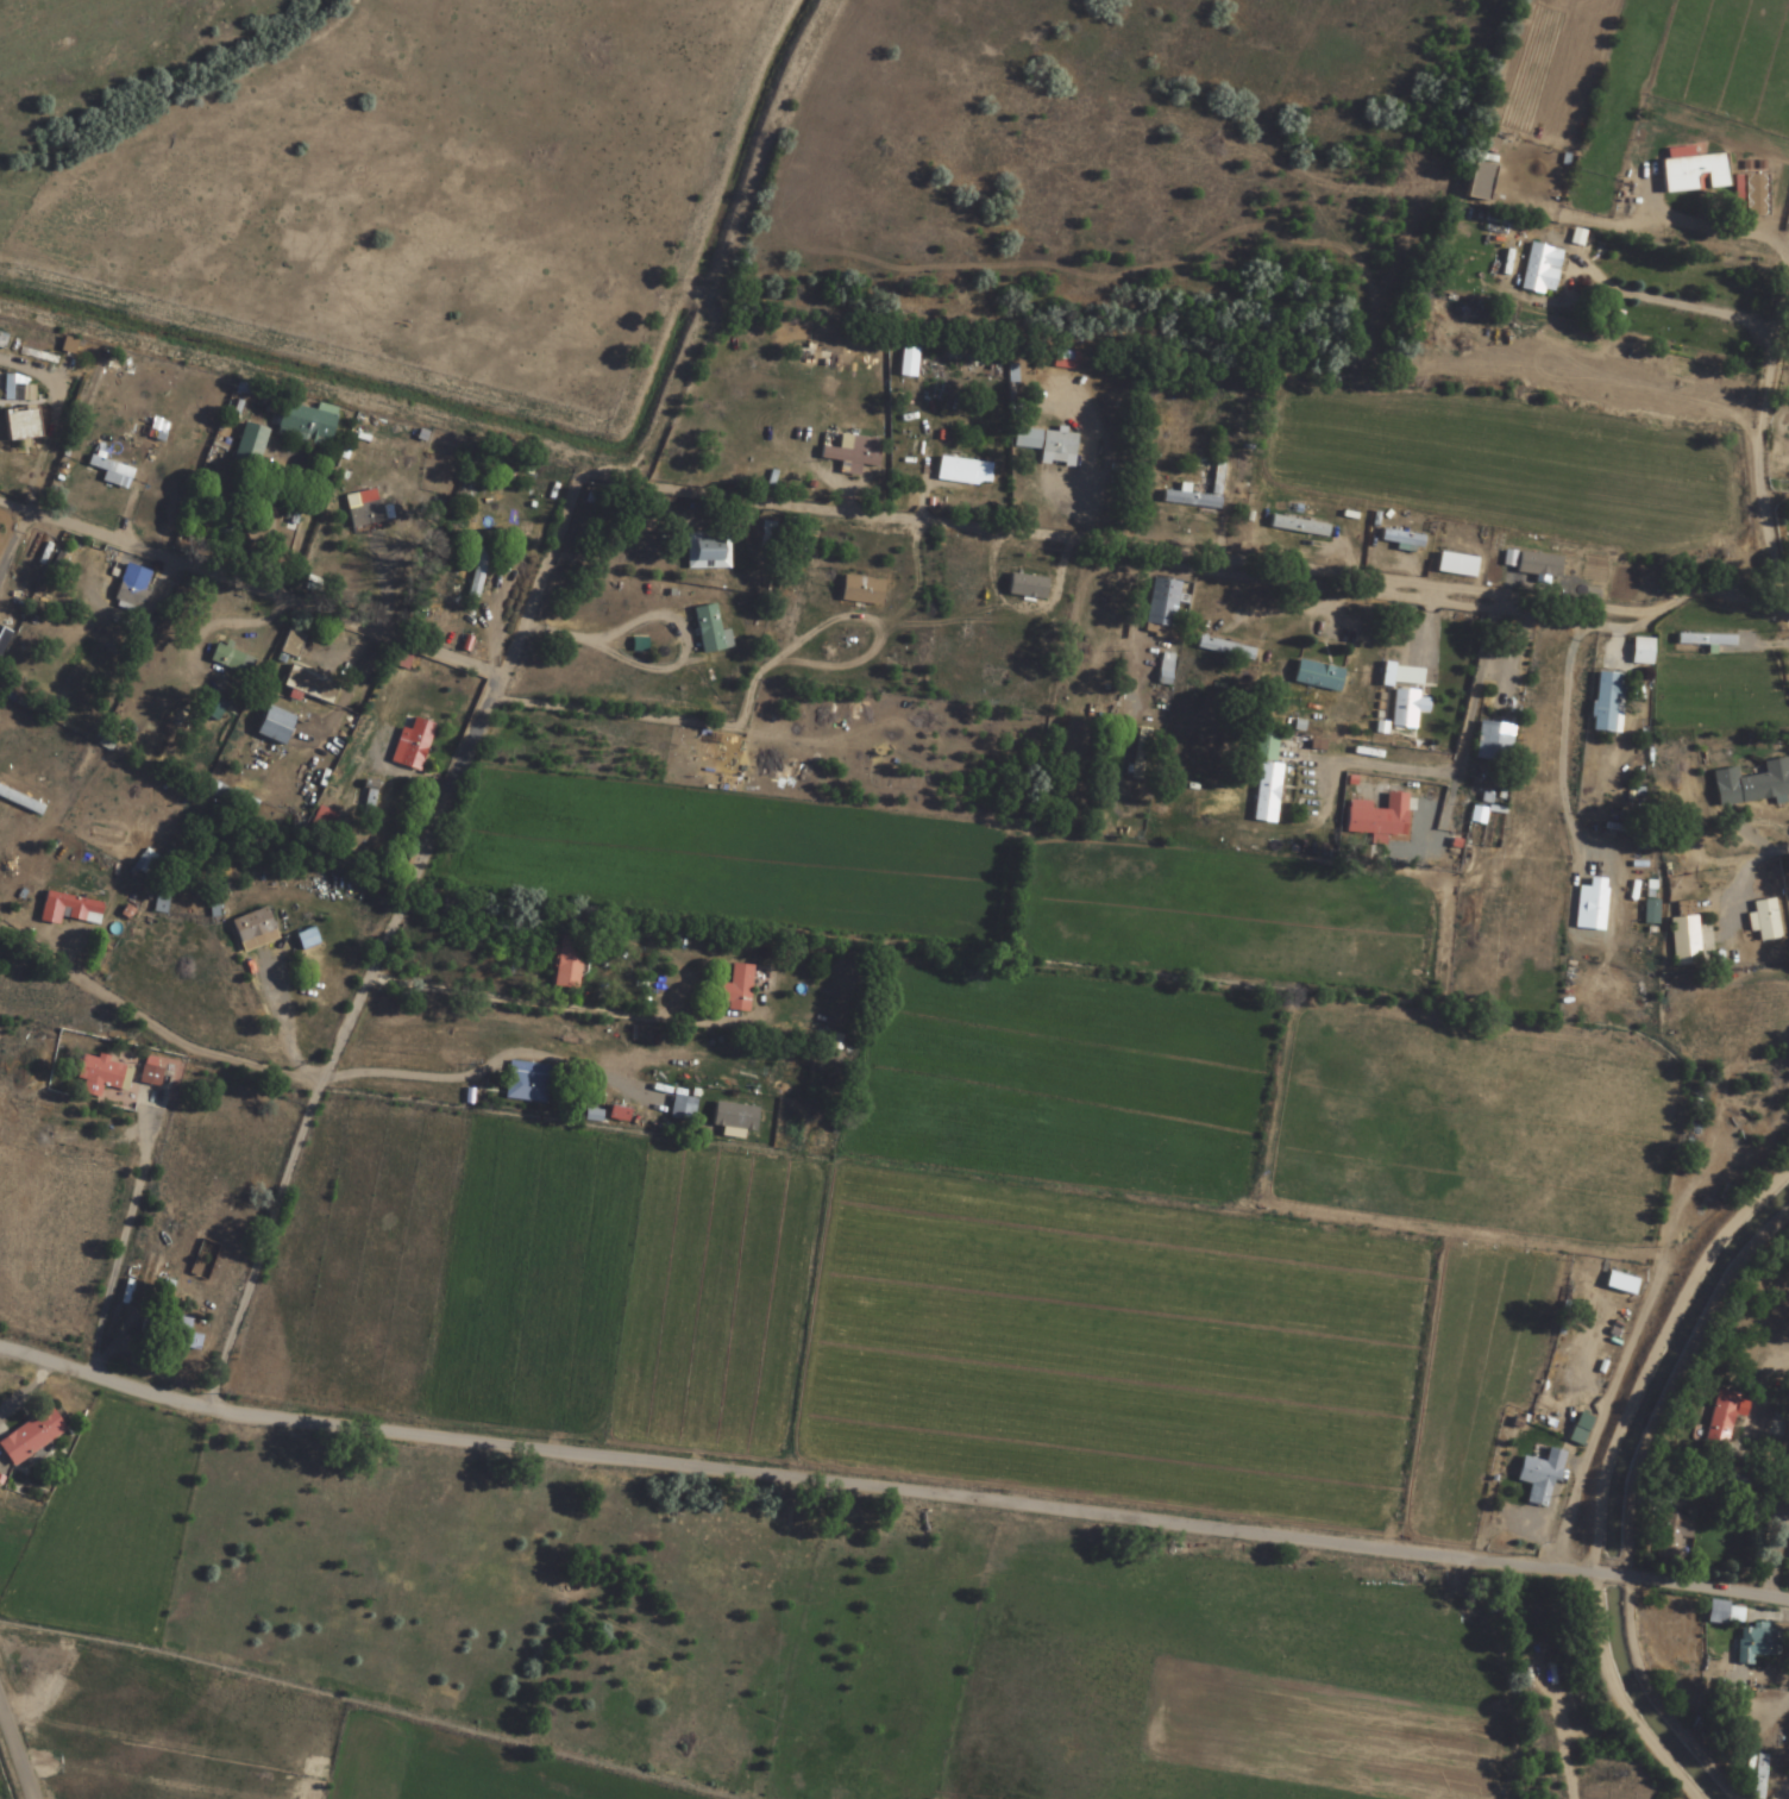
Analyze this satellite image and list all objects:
road: (312, 32)
road: (1546, 106)
building: (1691, 171)
building: (1477, 181)
building: (1749, 195)
building: (1538, 269)
road: (1645, 272)
road: (294, 382)
building: (305, 424)
building: (17, 425)
building: (1056, 445)
building: (247, 446)
building: (853, 456)
building: (389, 458)
building: (963, 466)
building: (107, 472)
road: (1770, 493)
building: (1189, 501)
building: (362, 513)
building: (503, 516)
building: (1298, 527)
building: (1399, 541)
building: (707, 551)
road: (1186, 553)
building: (1539, 560)
building: (1025, 587)
building: (860, 591)
building: (128, 596)
building: (1162, 603)
building: (710, 631)
building: (1223, 648)
building: (1638, 652)
building: (231, 660)
building: (296, 671)
building: (1317, 676)
road: (492, 684)
building: (1605, 703)
building: (212, 708)
building: (1402, 709)
building: (1490, 742)
building: (413, 744)
building: (1138, 753)
building: (1264, 776)
building: (1763, 783)
building: (226, 795)
building: (1376, 817)
building: (321, 820)
building: (200, 858)
building: (159, 902)
building: (71, 907)
building: (1592, 910)
building: (1650, 913)
building: (1762, 921)
building: (251, 930)
building: (1683, 938)
building: (563, 964)
building: (735, 989)
road: (150, 1021)
building: (147, 1071)
building: (99, 1076)
building: (526, 1083)
building: (723, 1121)
building: (1689, 1141)
building: (1775, 1306)
building: (170, 1336)
building: (1545, 1409)
building: (1781, 1413)
building: (1718, 1422)
building: (1578, 1428)
building: (29, 1437)
building: (1538, 1478)
road: (791, 1488)
building: (1655, 1496)
building: (1671, 1535)
road: (1613, 1600)
road: (1712, 1611)
building: (1722, 1613)
building: (1752, 1642)
road: (1649, 1703)
road: (15, 1750)
building: (1757, 1776)
road: (1785, 1795)

